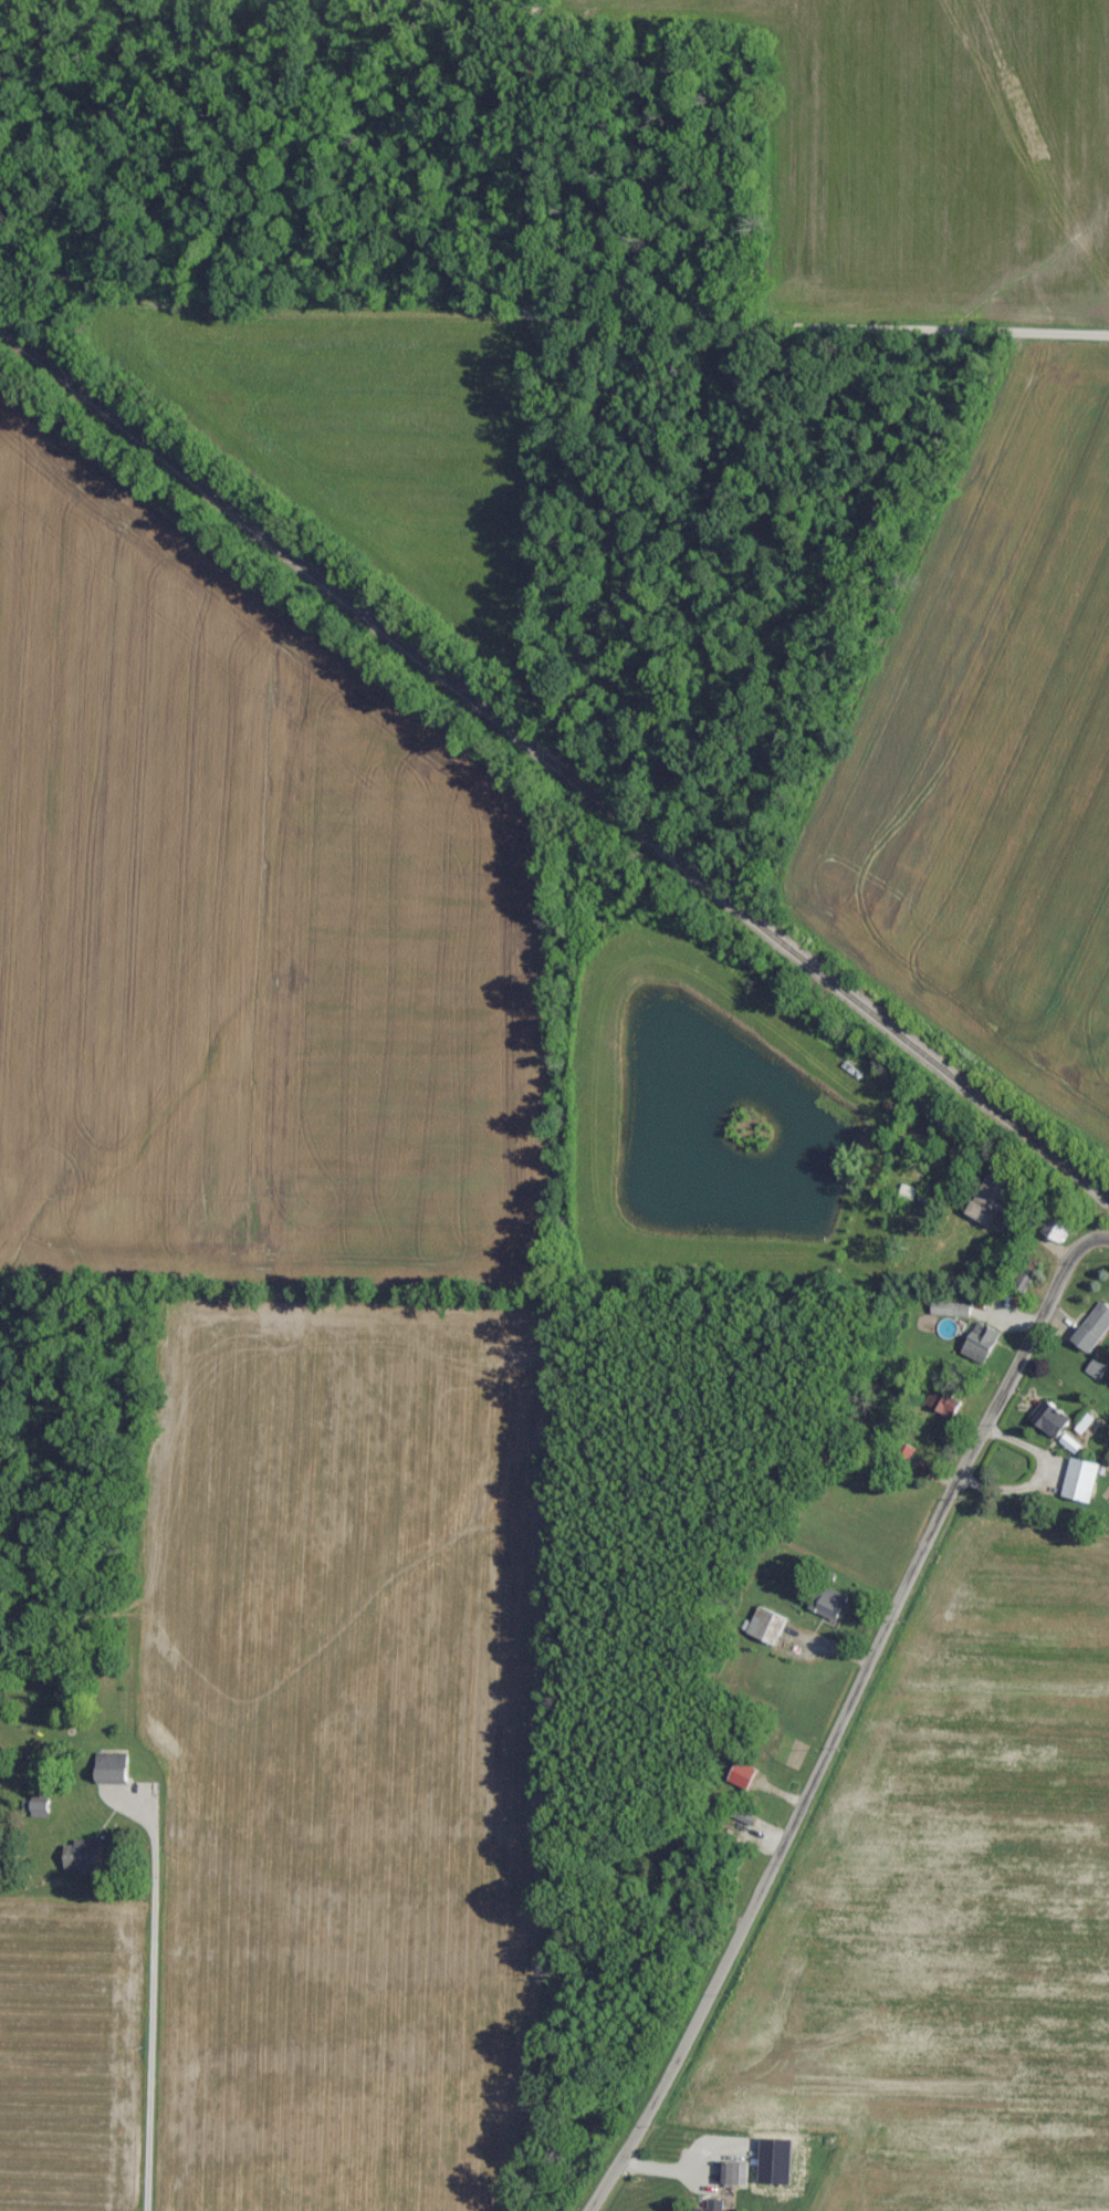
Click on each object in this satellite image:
road: (662, 325)
railway: (554, 778)
building: (992, 1204)
building: (1063, 1224)
building: (954, 1308)
building: (1095, 1326)
building: (983, 1343)
building: (1097, 1368)
building: (953, 1401)
building: (1054, 1419)
building: (1081, 1479)
building: (834, 1605)
building: (770, 1625)
road: (847, 1717)
building: (745, 1775)
building: (40, 1808)
building: (745, 1817)
building: (83, 1856)
road: (148, 2002)
building: (733, 2173)
building: (712, 2207)

